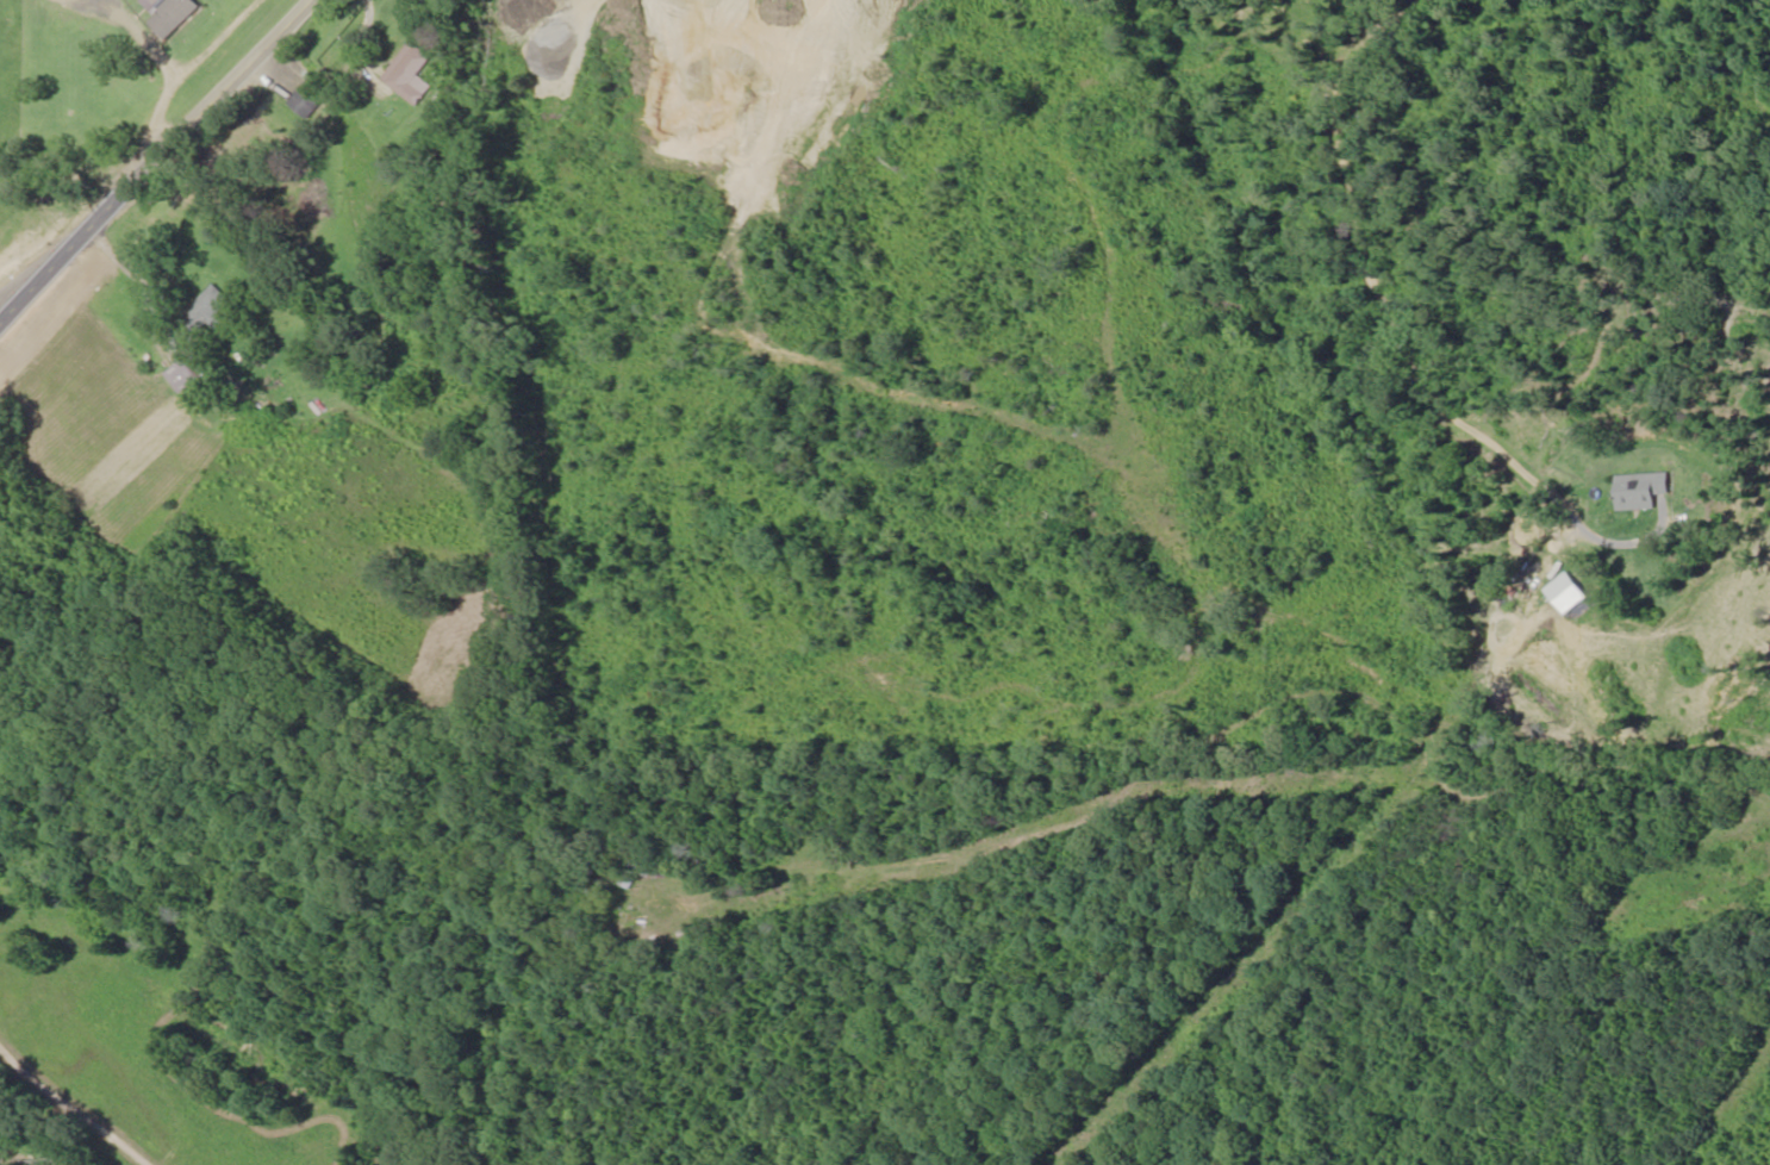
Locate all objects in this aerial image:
building: (179, 15)
building: (410, 75)
building: (310, 100)
road: (156, 162)
road: (1375, 281)
building: (208, 313)
building: (200, 372)
building: (1640, 491)
building: (613, 908)
road: (77, 1089)

